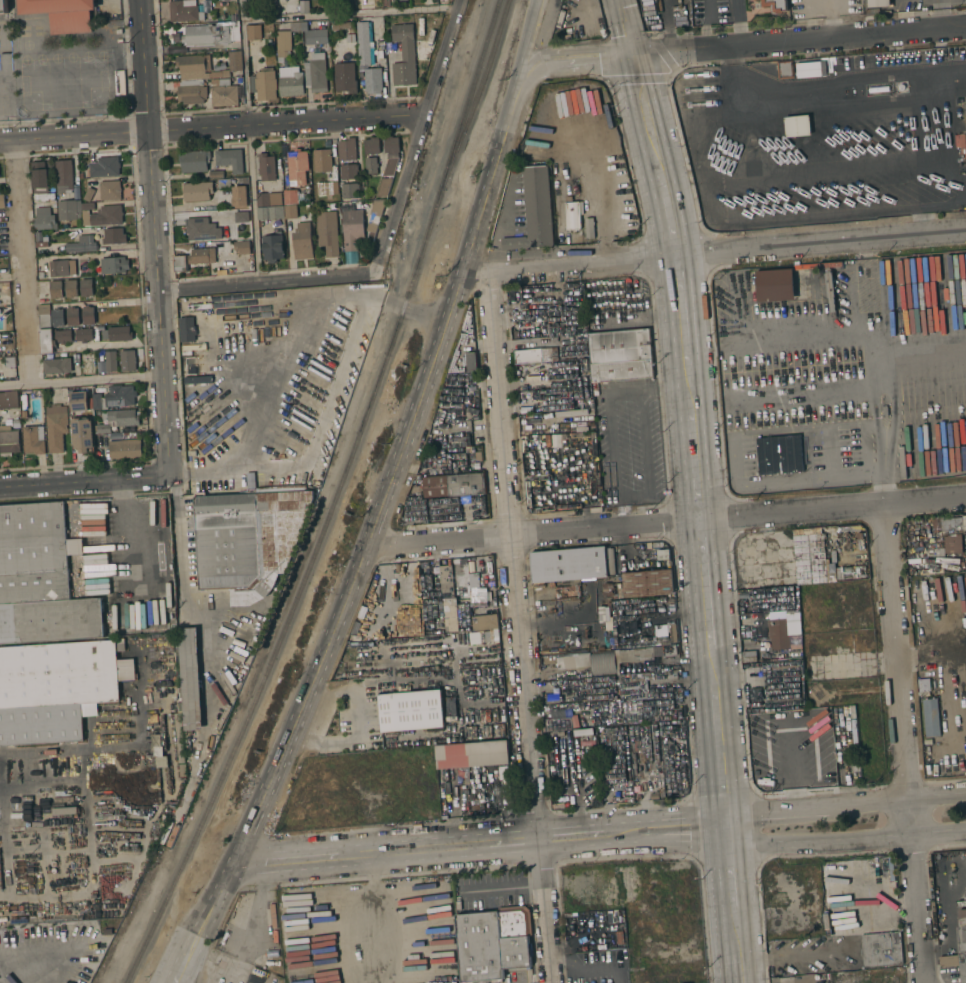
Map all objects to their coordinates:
building: (397, 0)
building: (332, 1)
building: (347, 3)
building: (879, 3)
building: (775, 5)
building: (3, 6)
building: (304, 6)
building: (291, 8)
building: (185, 11)
road: (939, 13)
building: (62, 14)
road: (370, 14)
road: (737, 22)
building: (342, 25)
road: (624, 28)
building: (254, 32)
road: (528, 32)
building: (209, 35)
building: (314, 35)
road: (846, 35)
building: (347, 38)
building: (286, 39)
building: (363, 42)
road: (679, 51)
building: (404, 55)
traffic signals: (632, 57)
road: (577, 61)
building: (232, 63)
building: (194, 67)
building: (784, 69)
building: (809, 69)
building: (316, 73)
building: (345, 74)
road: (730, 79)
building: (373, 80)
building: (290, 81)
building: (224, 82)
building: (264, 84)
building: (879, 89)
railway: (478, 90)
building: (191, 92)
building: (224, 95)
building: (965, 111)
road: (121, 116)
building: (797, 125)
road: (212, 127)
road: (417, 136)
road: (248, 142)
building: (372, 145)
building: (346, 150)
building: (390, 154)
building: (230, 159)
building: (322, 160)
building: (193, 161)
building: (371, 165)
building: (104, 167)
building: (266, 167)
building: (297, 167)
building: (348, 171)
building: (216, 174)
building: (63, 176)
building: (39, 177)
building: (223, 184)
building: (383, 187)
building: (327, 188)
building: (110, 190)
building: (349, 190)
road: (590, 190)
building: (197, 191)
building: (89, 194)
building: (239, 196)
building: (291, 196)
building: (269, 199)
building: (2, 200)
parking lot: (517, 203)
building: (88, 205)
building: (68, 210)
building: (534, 210)
building: (290, 211)
building: (270, 212)
building: (107, 215)
building: (374, 215)
building: (572, 215)
building: (241, 217)
building: (44, 219)
road: (500, 224)
building: (352, 225)
building: (589, 228)
building: (201, 229)
building: (327, 232)
building: (38, 236)
building: (113, 236)
road: (153, 236)
building: (302, 242)
building: (82, 244)
building: (225, 246)
building: (242, 247)
building: (273, 247)
road: (713, 254)
building: (202, 255)
road: (21, 261)
building: (180, 263)
building: (114, 264)
building: (62, 268)
road: (266, 283)
building: (775, 285)
building: (71, 288)
building: (86, 288)
building: (830, 288)
building: (55, 290)
building: (512, 295)
road: (105, 303)
road: (415, 313)
building: (88, 315)
building: (73, 316)
building: (57, 317)
building: (45, 318)
building: (187, 329)
building: (581, 329)
road: (845, 332)
building: (117, 334)
building: (10, 335)
building: (83, 335)
building: (0, 336)
building: (63, 336)
building: (331, 337)
building: (47, 342)
building: (536, 355)
building: (621, 356)
building: (111, 361)
building: (128, 361)
building: (471, 362)
building: (57, 366)
road: (275, 378)
road: (80, 379)
building: (561, 384)
building: (595, 389)
road: (647, 389)
building: (115, 397)
building: (9, 400)
building: (79, 401)
building: (24, 408)
road: (892, 409)
road: (874, 410)
building: (576, 415)
building: (119, 420)
building: (16, 424)
building: (56, 427)
road: (770, 431)
building: (83, 435)
road: (696, 440)
building: (9, 441)
building: (33, 441)
building: (125, 448)
road: (827, 451)
road: (883, 453)
building: (779, 455)
road: (839, 475)
road: (83, 482)
building: (454, 485)
road: (633, 495)
railway: (330, 499)
road: (665, 522)
building: (964, 522)
building: (936, 525)
road: (369, 532)
building: (952, 535)
building: (248, 540)
building: (936, 552)
road: (180, 557)
building: (809, 557)
building: (568, 565)
building: (41, 579)
building: (446, 582)
building: (648, 583)
building: (413, 589)
building: (617, 592)
building: (449, 608)
building: (387, 621)
building: (485, 622)
building: (608, 623)
road: (520, 627)
building: (778, 633)
building: (656, 640)
building: (565, 649)
road: (934, 651)
building: (645, 653)
building: (749, 657)
building: (549, 660)
building: (573, 661)
building: (603, 663)
building: (672, 674)
building: (58, 675)
building: (191, 678)
building: (924, 685)
building: (632, 687)
building: (755, 694)
road: (963, 694)
building: (552, 699)
building: (411, 711)
building: (835, 712)
building: (853, 714)
building: (931, 717)
road: (907, 744)
building: (472, 755)
building: (855, 764)
building: (654, 795)
road: (845, 799)
building: (48, 801)
building: (65, 811)
road: (706, 819)
road: (847, 829)
road: (708, 834)
road: (460, 845)
road: (258, 875)
road: (734, 906)
road: (247, 922)
building: (619, 934)
building: (620, 940)
building: (494, 942)
building: (881, 949)
building: (958, 949)
road: (592, 966)
road: (230, 969)

